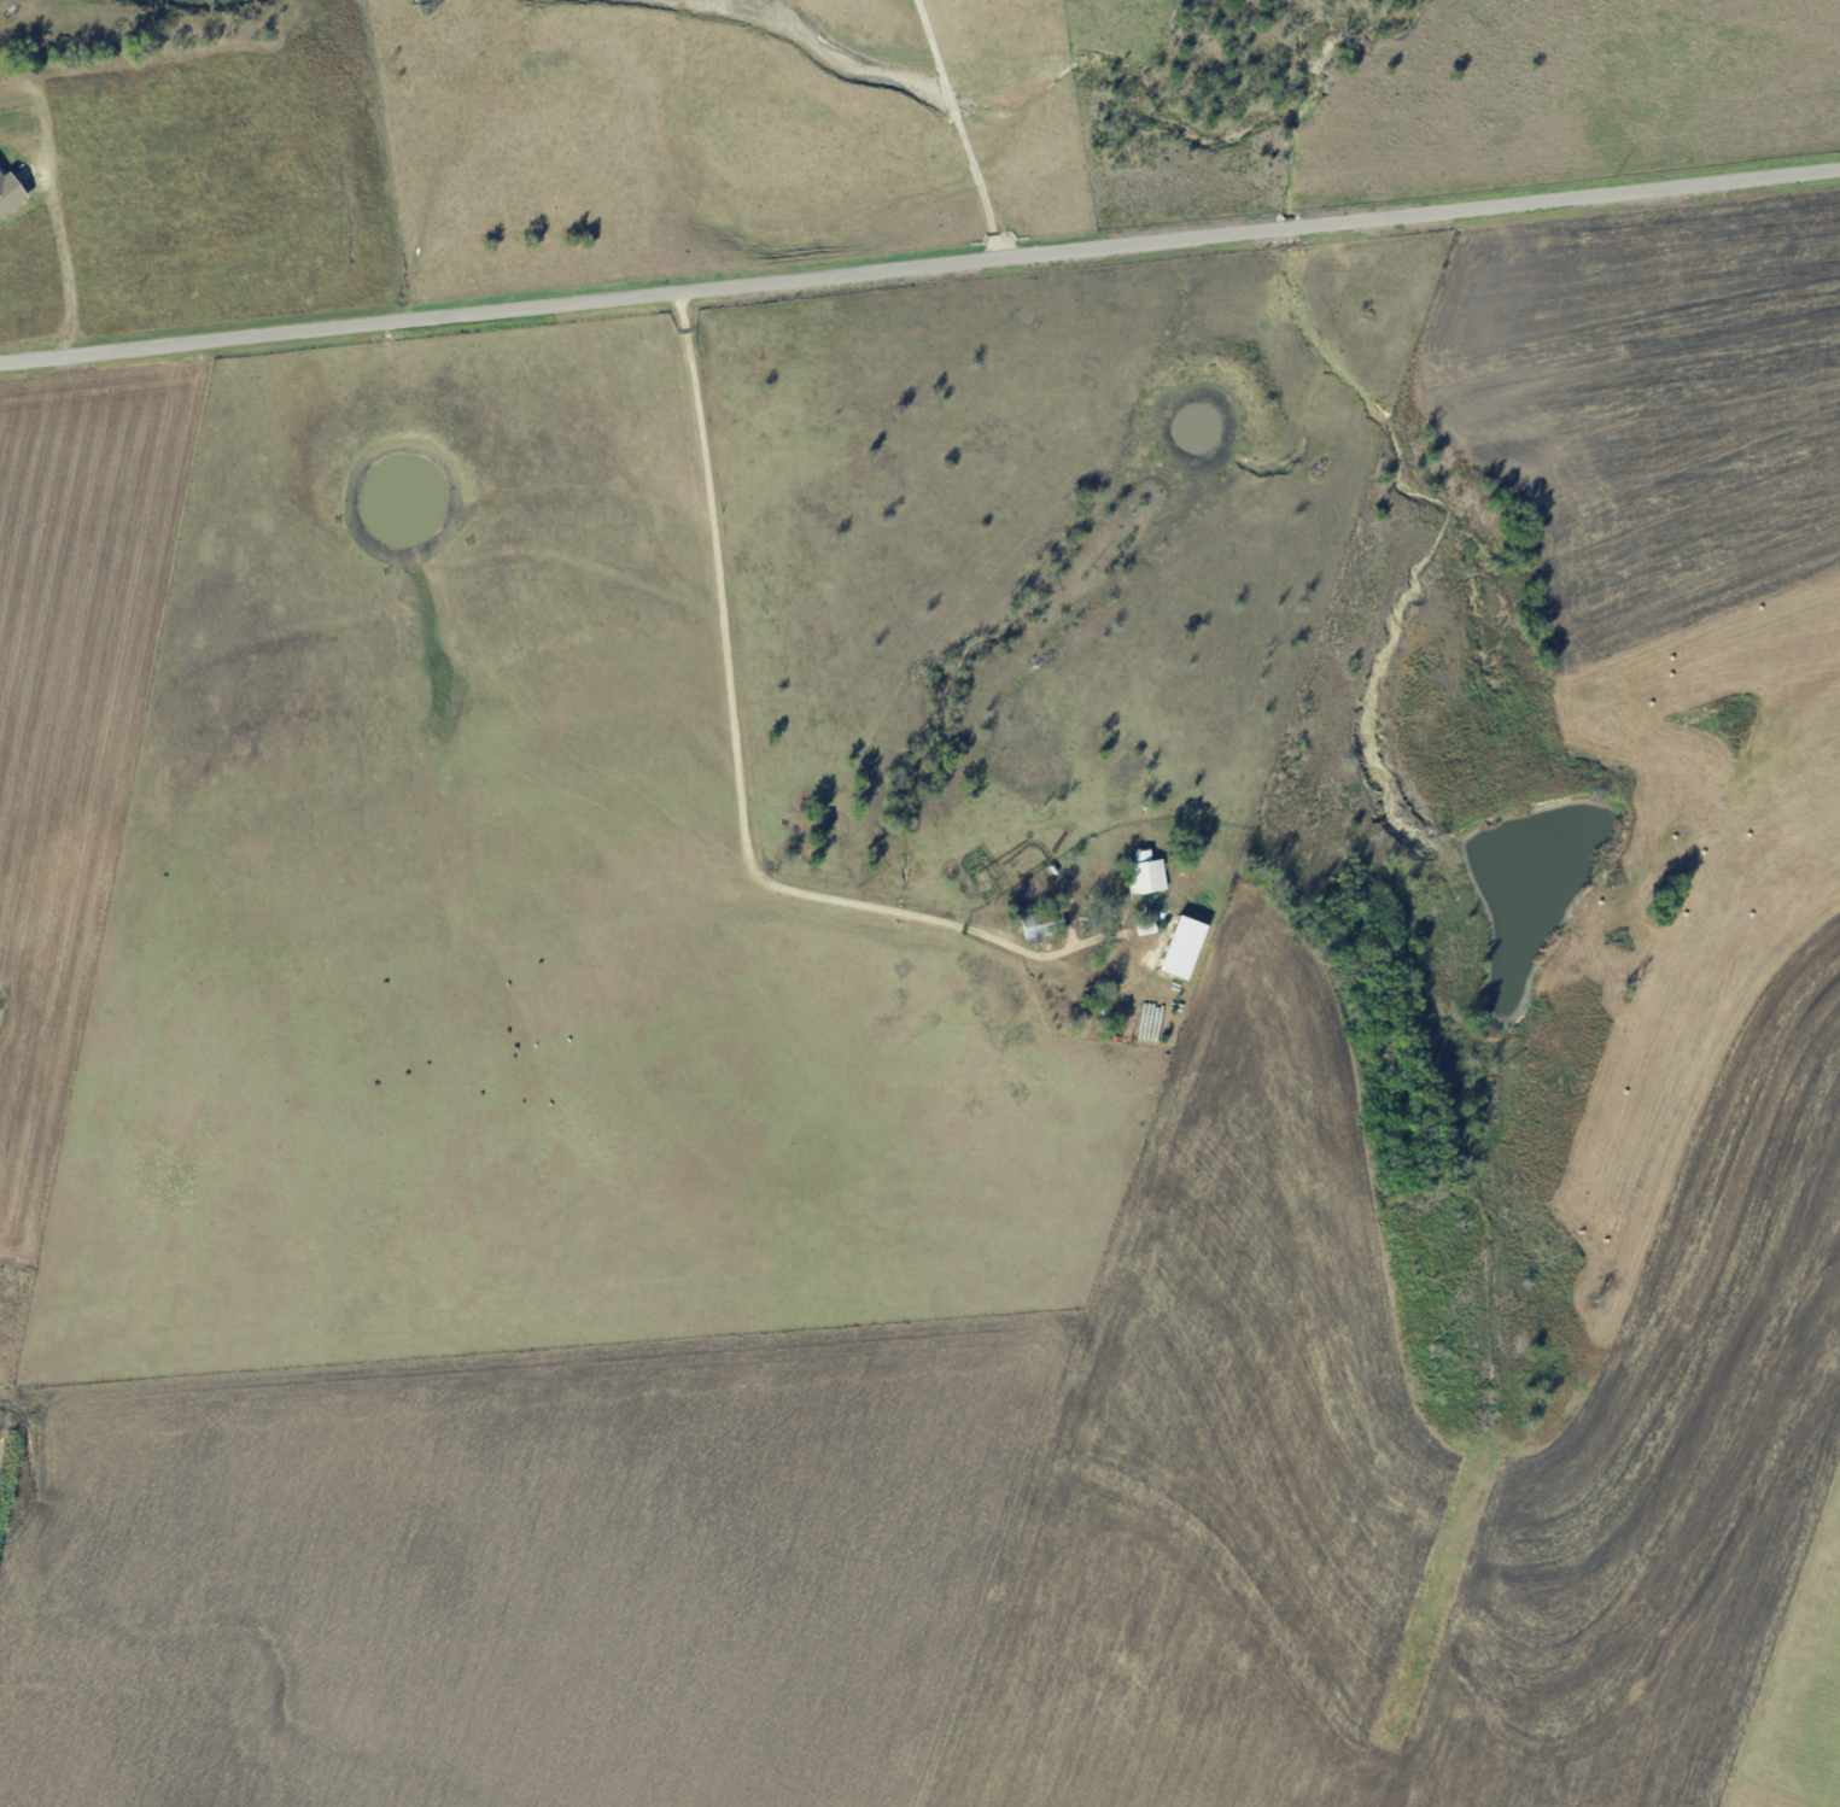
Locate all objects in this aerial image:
road: (959, 128)
road: (919, 267)
road: (752, 713)
building: (1175, 947)

